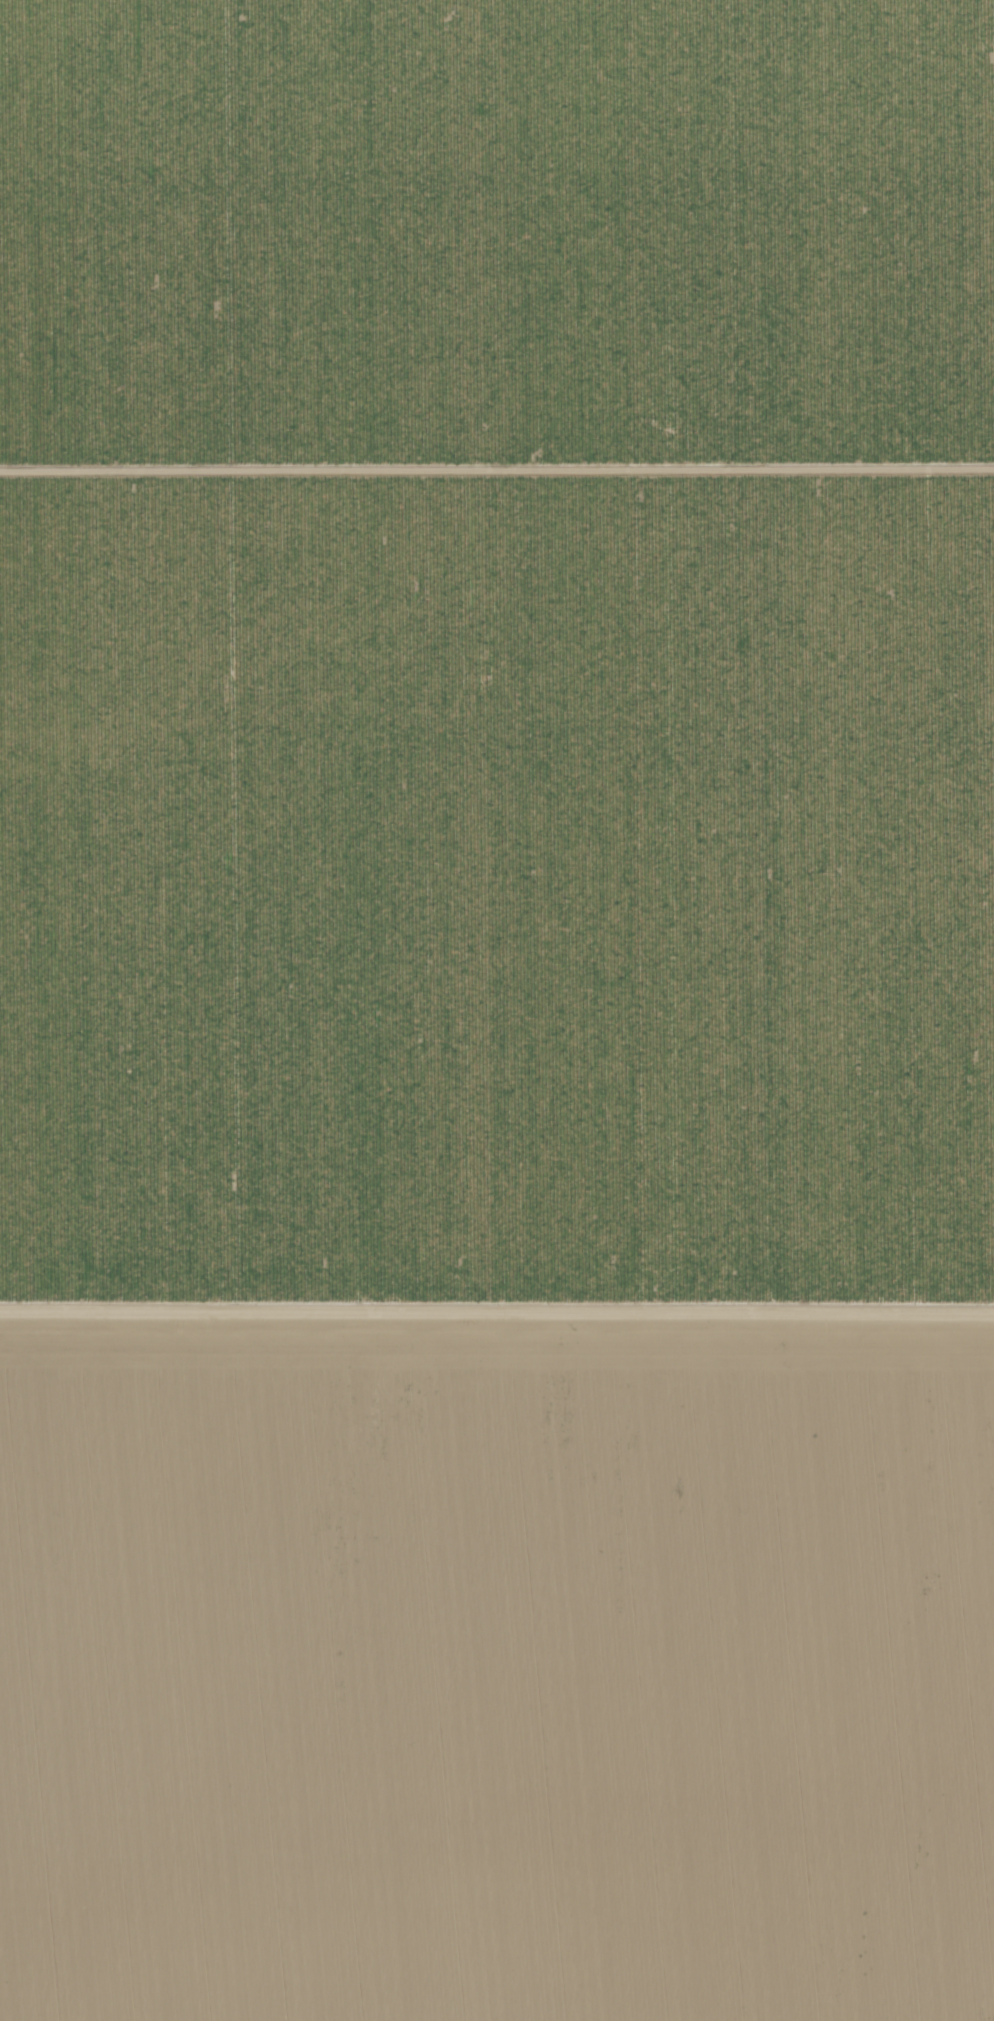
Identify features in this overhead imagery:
crop: (497, 1010)

